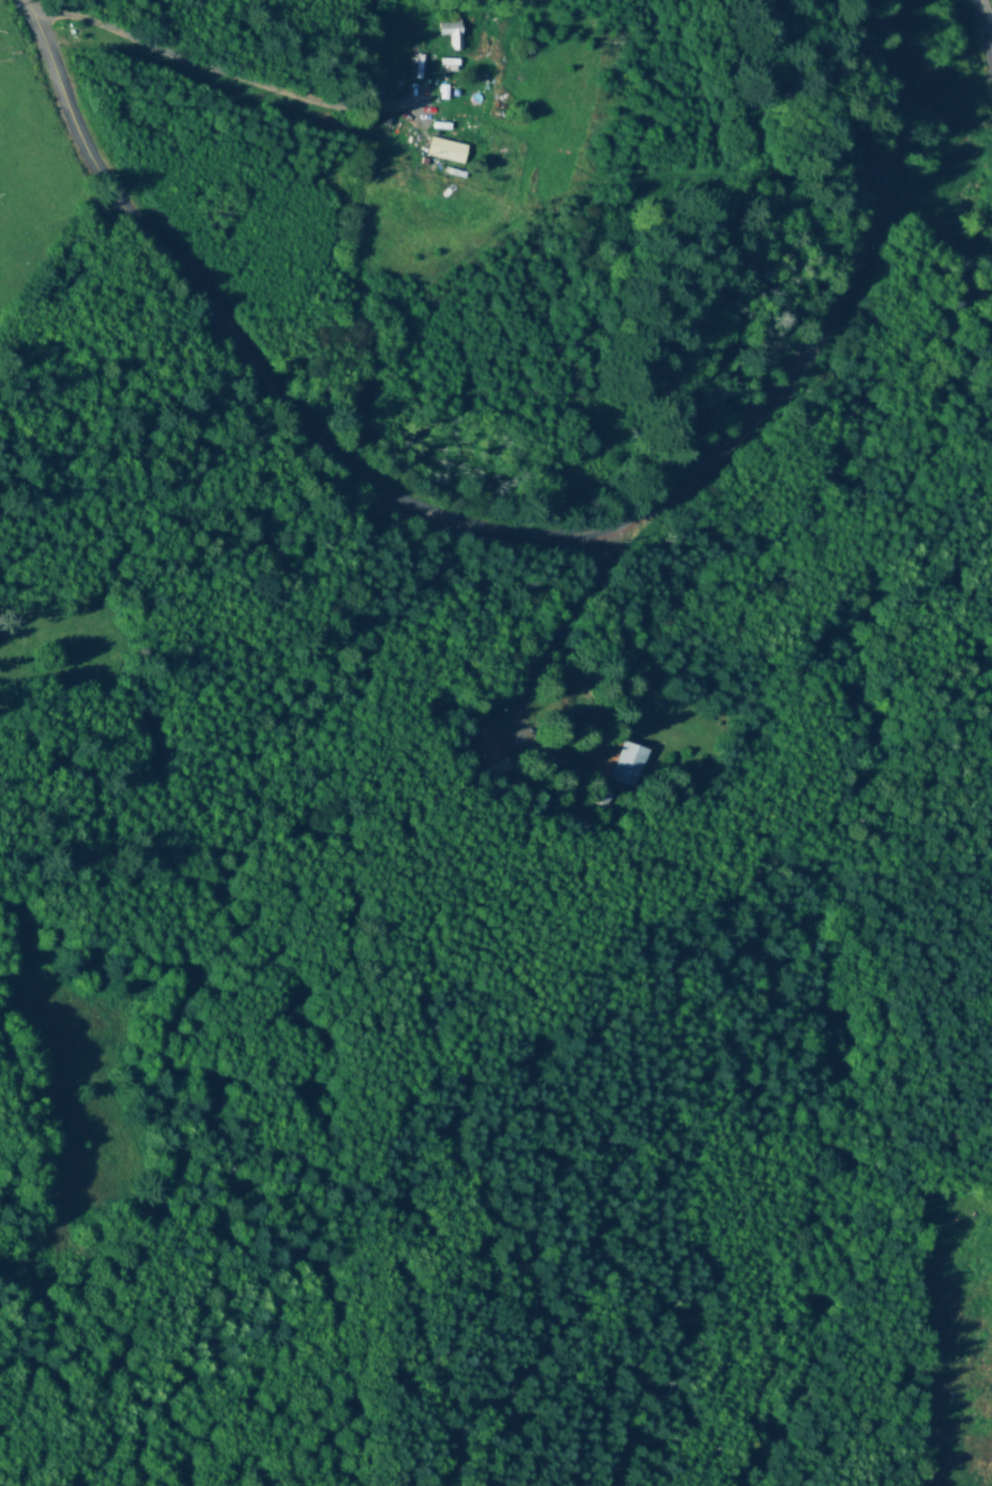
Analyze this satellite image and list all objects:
road: (991, 2)
building: (453, 32)
road: (238, 73)
building: (449, 150)
road: (512, 530)
building: (503, 753)
building: (631, 765)

